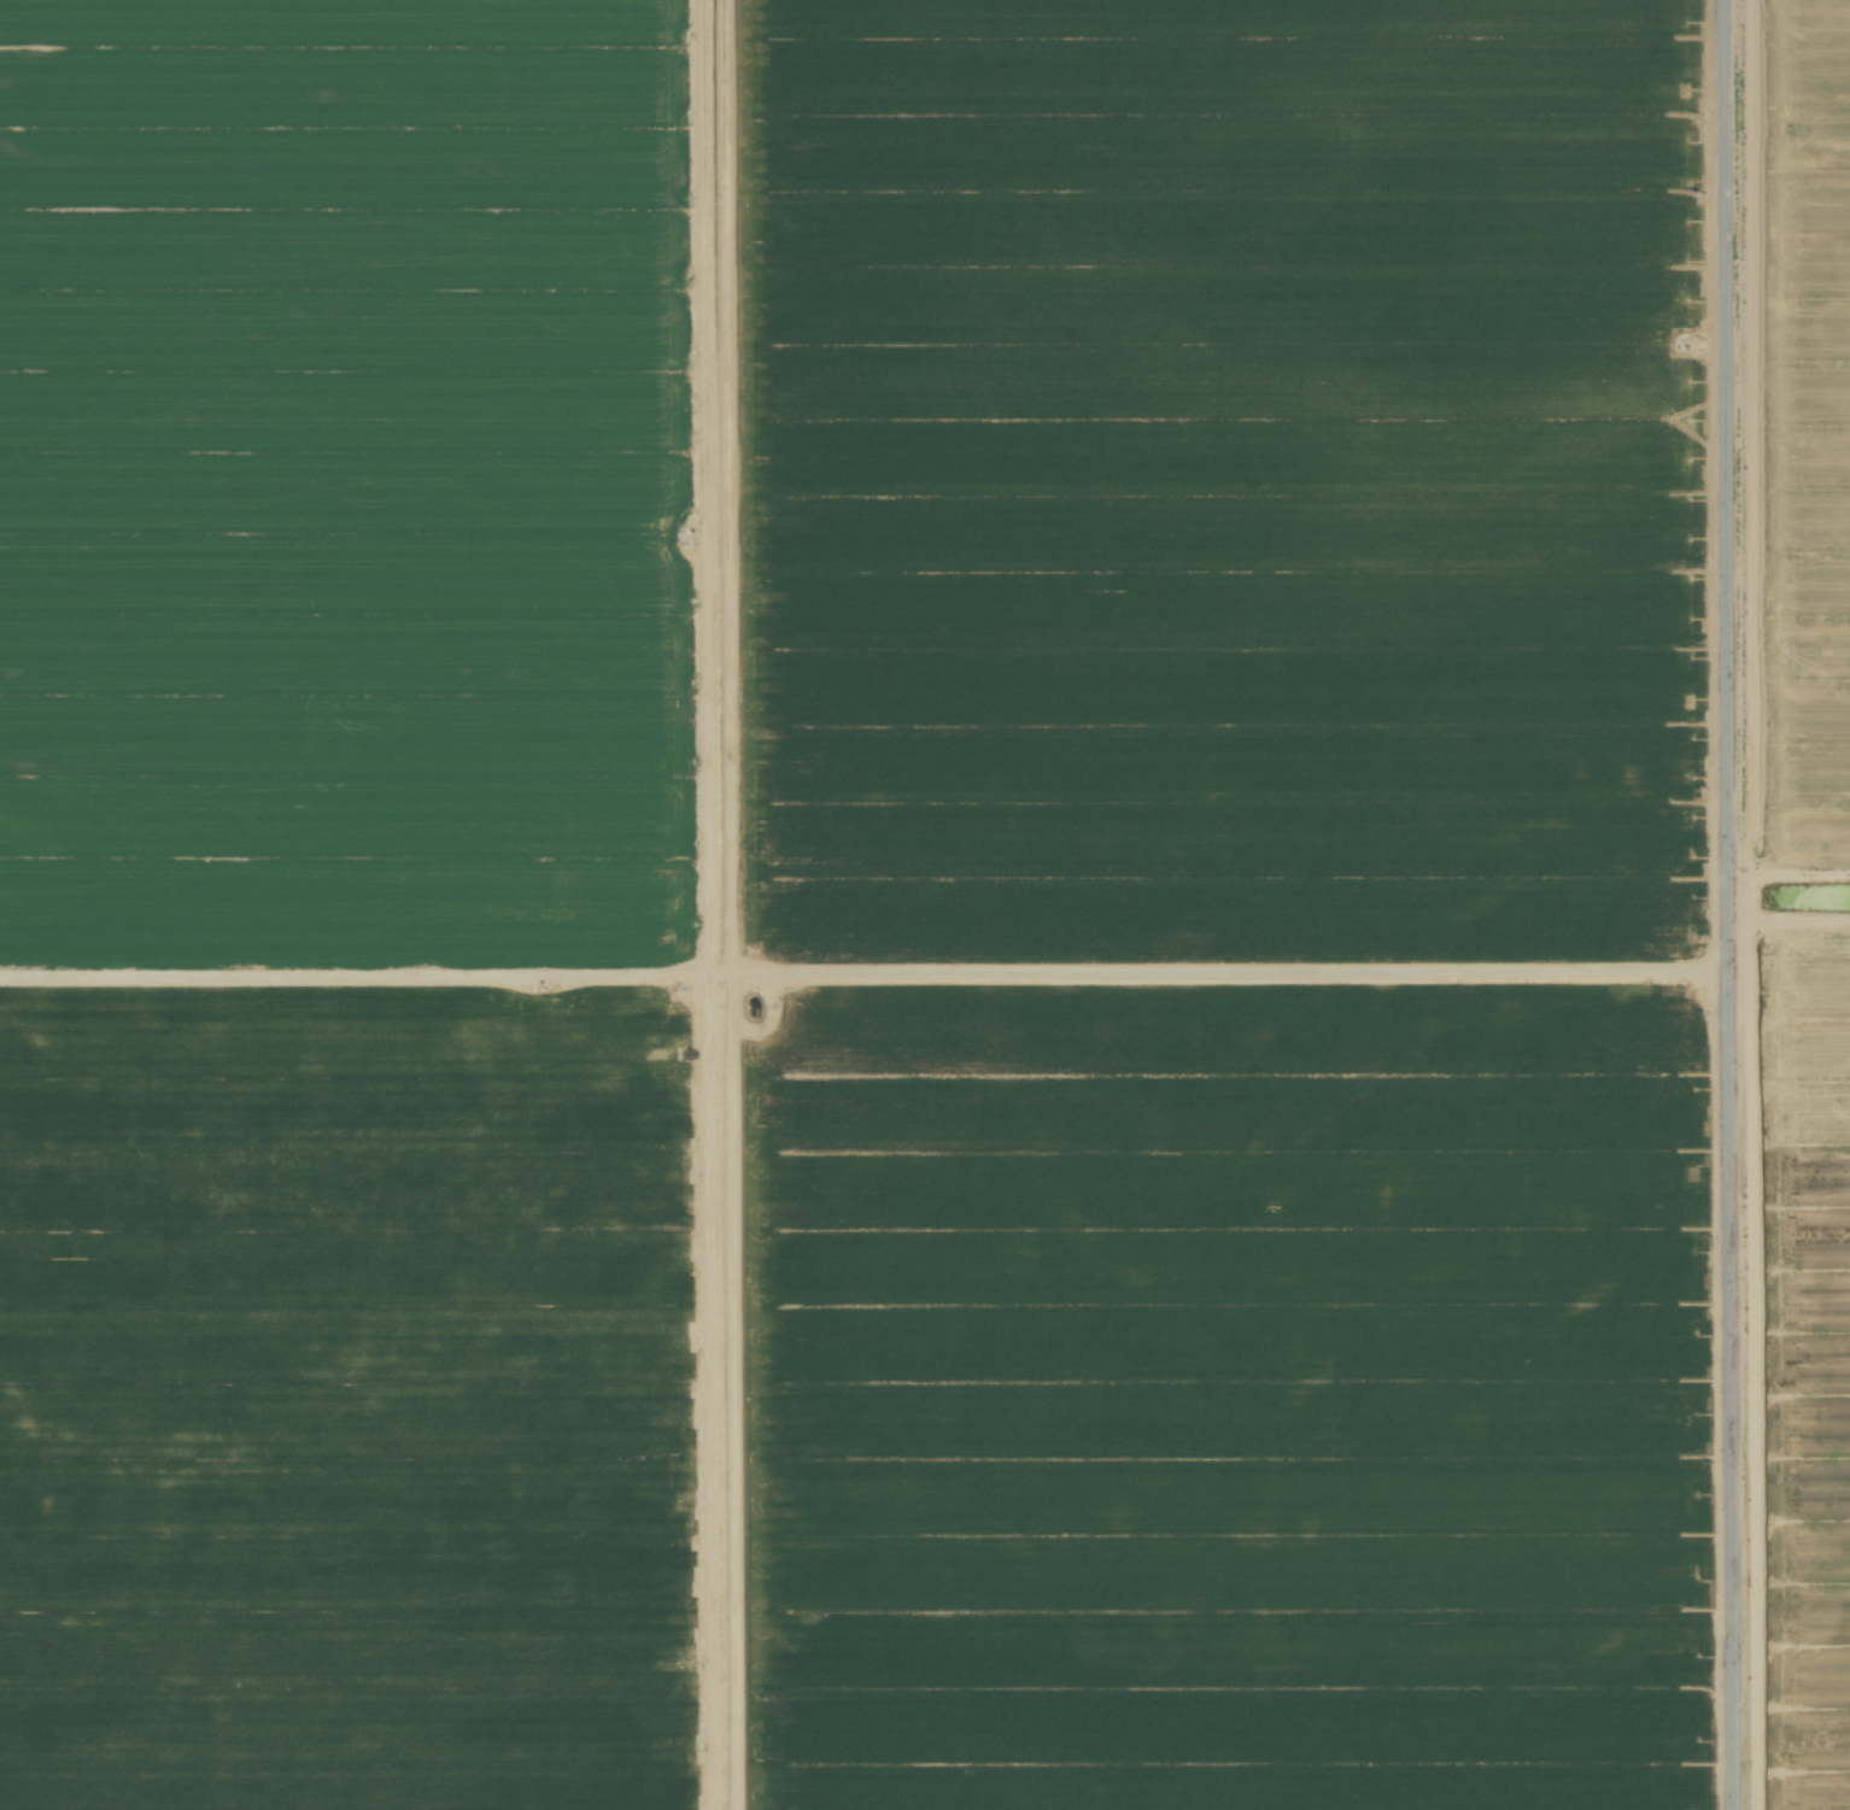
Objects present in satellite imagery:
crop: (925, 904)
road: (1729, 904)

